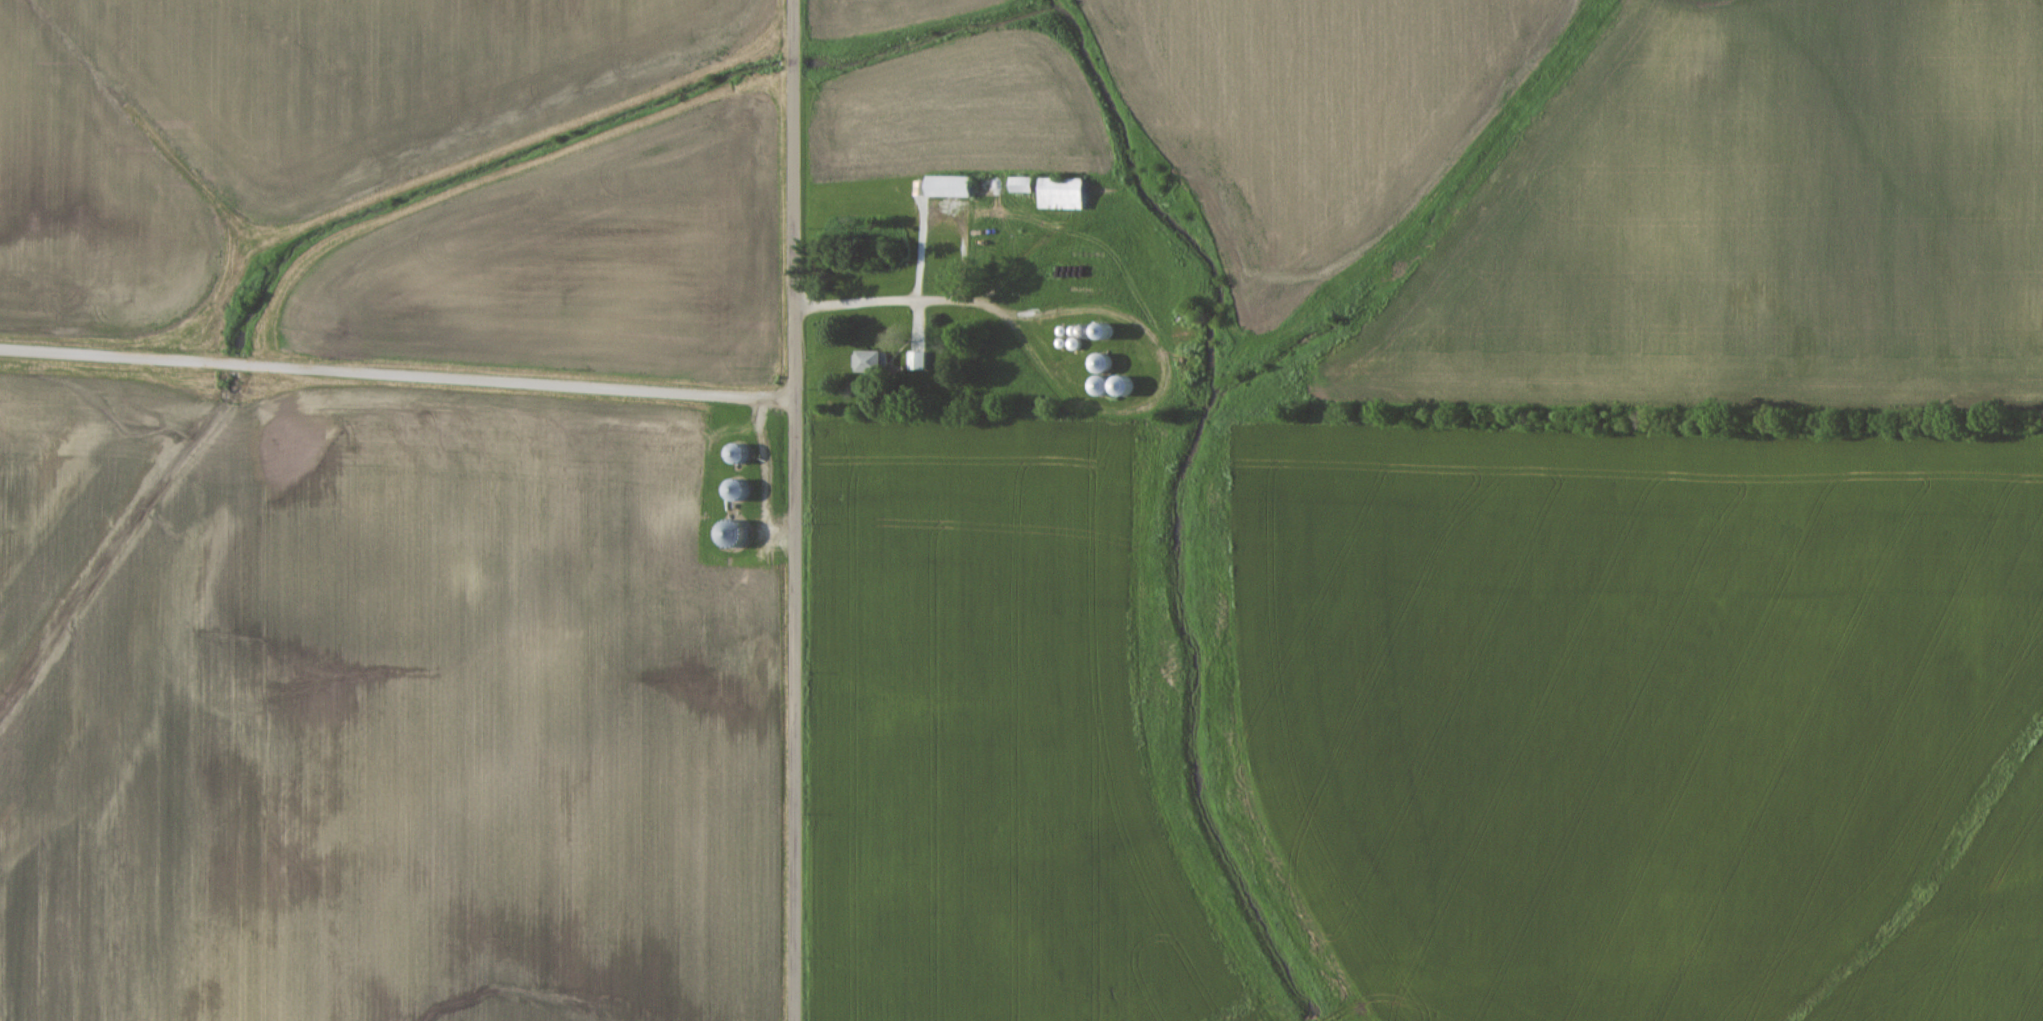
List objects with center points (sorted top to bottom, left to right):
building: (1026, 186)
building: (955, 188)
road: (895, 302)
building: (872, 361)
building: (921, 362)
road: (399, 370)
road: (798, 510)

